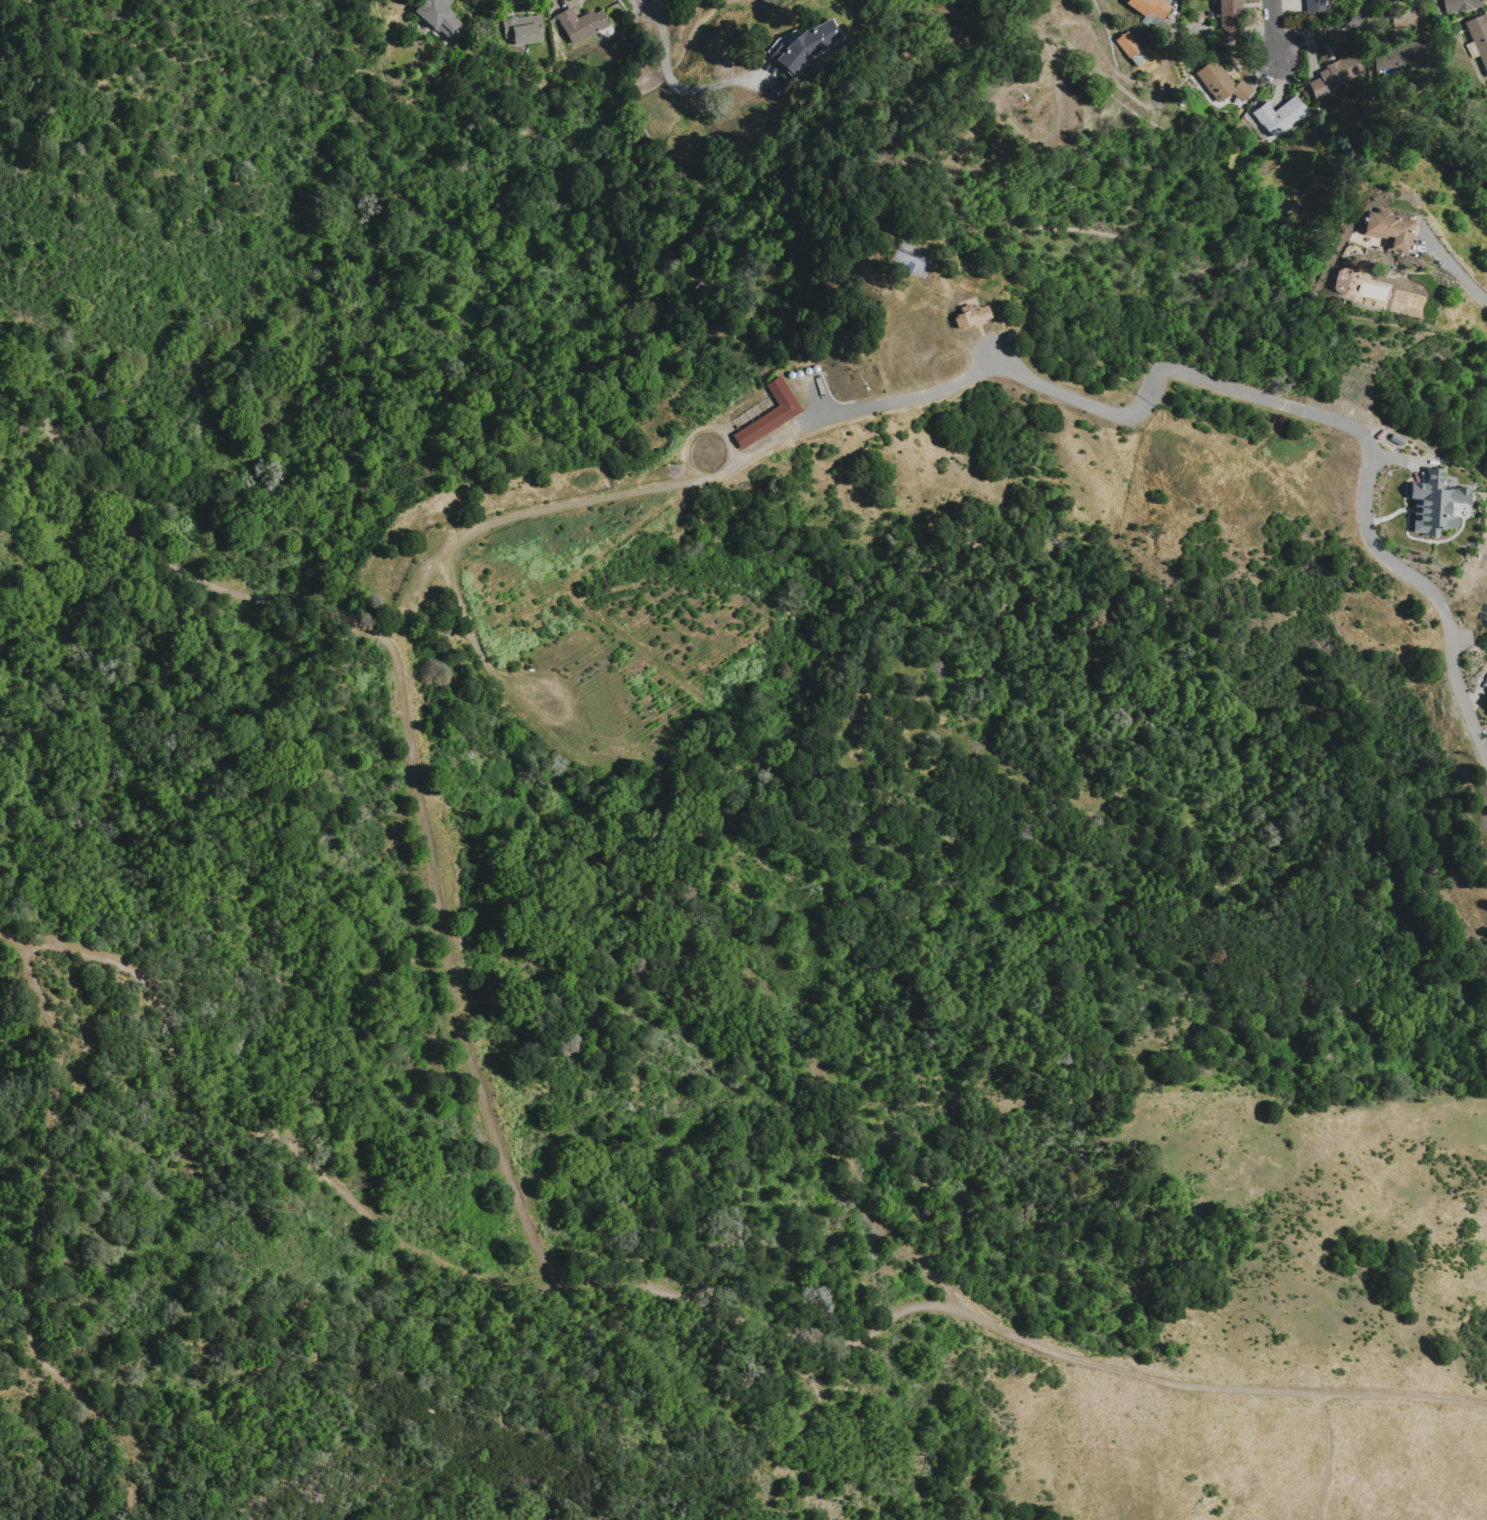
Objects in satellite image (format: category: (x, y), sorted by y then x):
building: (1314, 5)
building: (1459, 5)
building: (1149, 7)
building: (439, 17)
building: (1227, 20)
building: (580, 23)
road: (1327, 27)
building: (522, 30)
road: (1274, 32)
building: (1479, 37)
building: (1129, 43)
building: (807, 46)
building: (1129, 56)
building: (1399, 56)
building: (1333, 75)
road: (676, 81)
building: (1220, 82)
building: (1279, 115)
building: (1386, 228)
road: (1458, 271)
building: (970, 316)
road: (1025, 375)
building: (769, 413)
building: (1433, 503)
building: (1486, 698)
road: (486, 1112)
road: (249, 1140)
road: (33, 1248)
road: (1403, 1399)
road: (1332, 1457)

